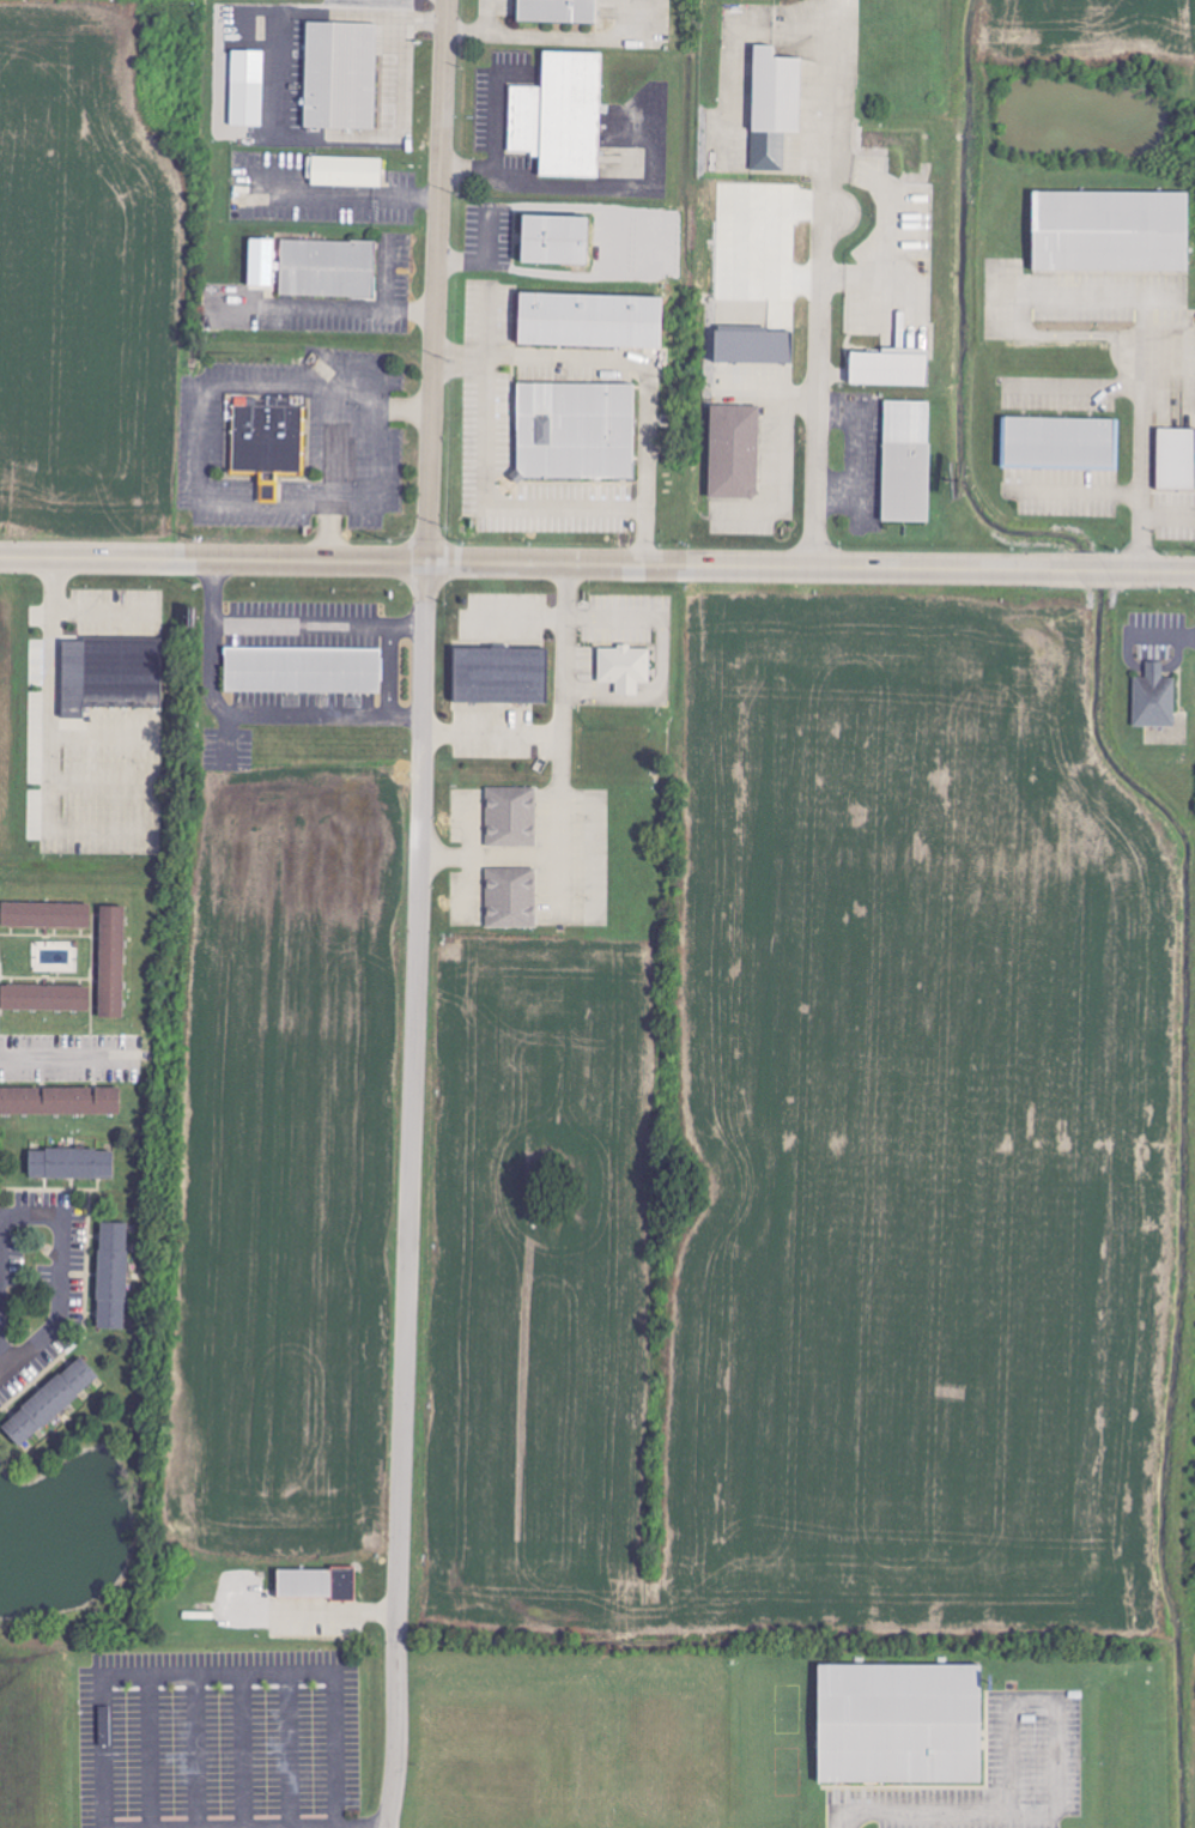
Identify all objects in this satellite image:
building: (556, 10)
building: (341, 75)
building: (247, 87)
building: (774, 107)
road: (274, 113)
building: (560, 115)
road: (831, 132)
road: (492, 144)
building: (346, 171)
road: (347, 193)
building: (1110, 231)
building: (554, 240)
building: (260, 264)
building: (327, 268)
road: (383, 273)
road: (348, 304)
building: (589, 321)
building: (753, 347)
road: (636, 362)
building: (888, 369)
road: (342, 382)
road: (404, 406)
road: (818, 417)
building: (575, 431)
building: (1060, 442)
building: (266, 443)
building: (734, 452)
road: (1135, 458)
building: (1176, 459)
building: (906, 461)
road: (481, 473)
road: (596, 565)
road: (104, 605)
road: (316, 630)
road: (1159, 632)
building: (624, 668)
building: (303, 670)
building: (110, 674)
building: (499, 677)
building: (1154, 698)
road: (244, 715)
road: (491, 740)
road: (53, 742)
road: (559, 780)
building: (511, 817)
building: (510, 898)
road: (418, 914)
building: (46, 916)
building: (111, 963)
building: (44, 999)
road: (71, 1060)
building: (60, 1102)
building: (71, 1164)
road: (57, 1273)
building: (111, 1277)
building: (49, 1403)
building: (315, 1582)
road: (220, 1673)
road: (1060, 1703)
building: (899, 1725)
road: (922, 1815)
road: (291, 1827)

